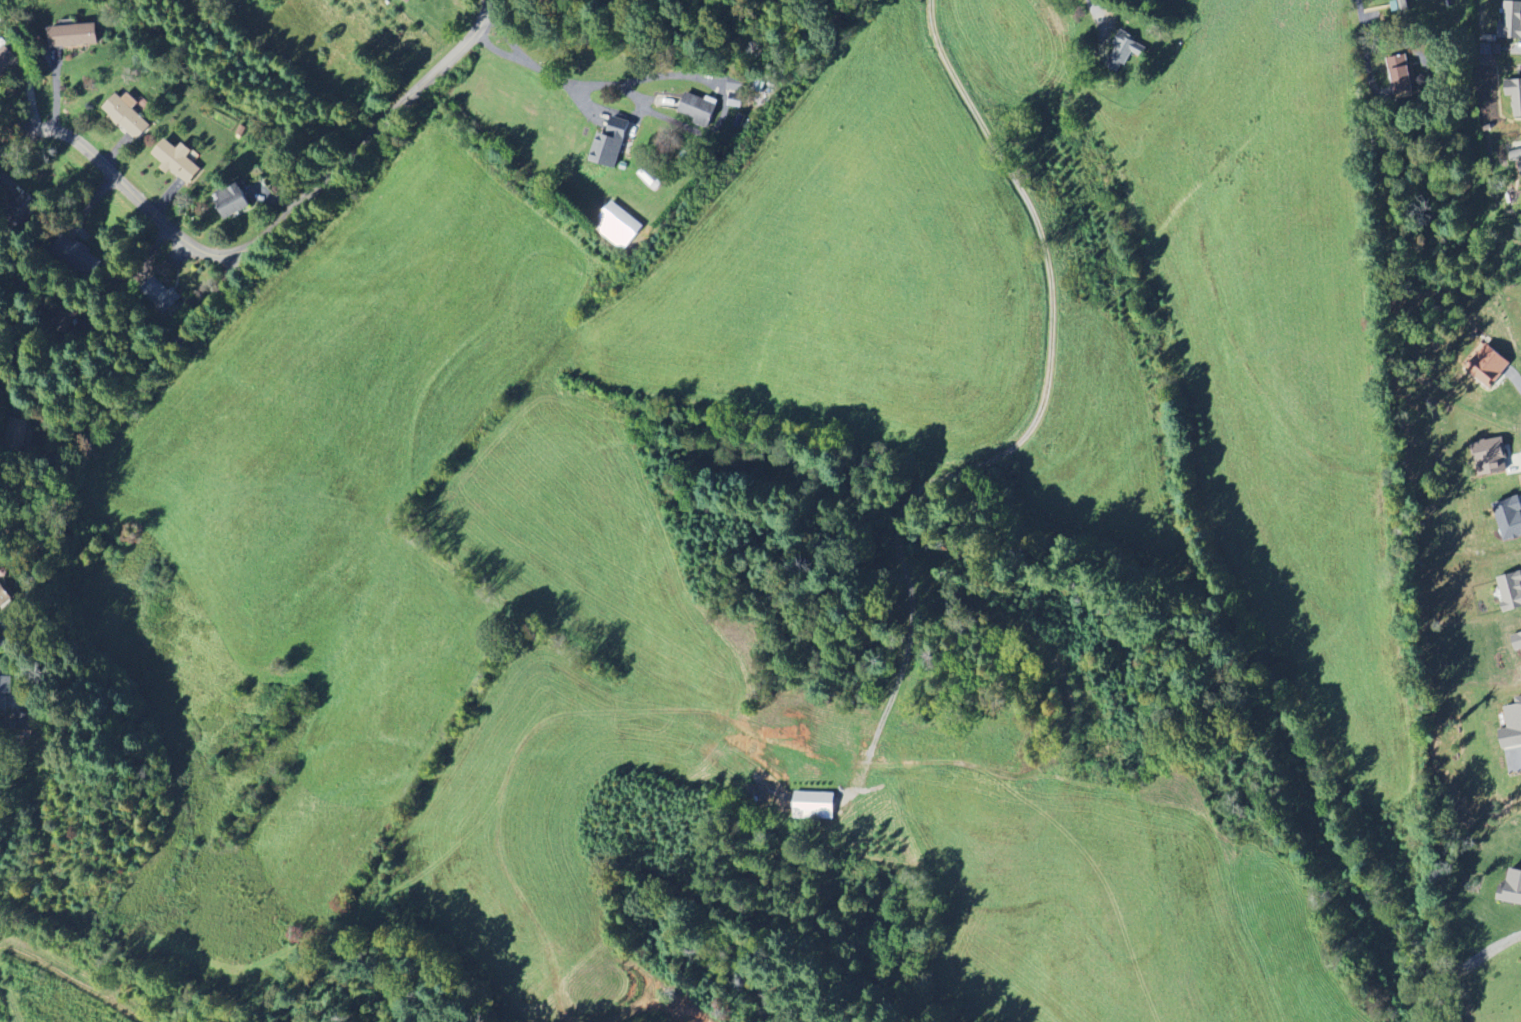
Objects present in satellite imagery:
building: (407, 1)
building: (1402, 5)
road: (1095, 14)
building: (1511, 21)
road: (1361, 22)
building: (73, 35)
building: (1124, 52)
road: (521, 57)
building: (6, 59)
building: (1402, 78)
building: (735, 85)
road: (626, 89)
road: (1428, 95)
building: (1514, 95)
building: (698, 110)
building: (126, 115)
road: (18, 117)
building: (609, 145)
building: (1515, 153)
building: (176, 160)
building: (1520, 165)
building: (649, 179)
building: (231, 201)
building: (617, 226)
road: (271, 242)
building: (159, 294)
building: (1487, 365)
road: (1031, 426)
building: (16, 433)
road: (80, 436)
building: (1491, 456)
building: (1509, 518)
building: (1511, 591)
building: (4, 597)
building: (1517, 641)
building: (4, 687)
building: (1512, 727)
building: (814, 805)
building: (1512, 890)

